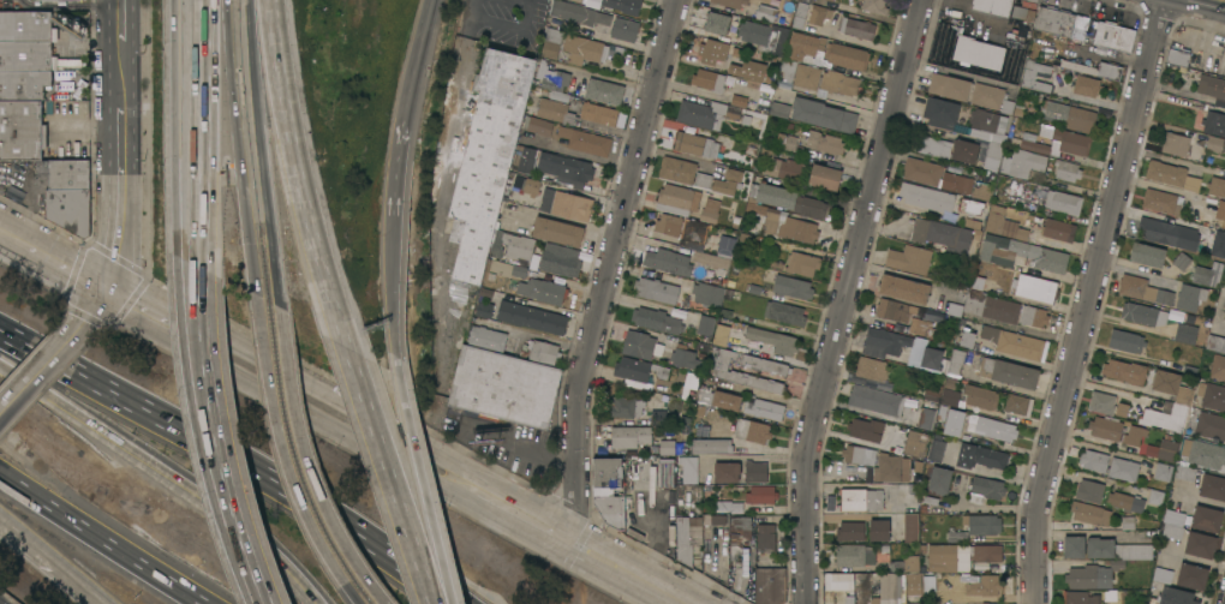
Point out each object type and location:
building: (22, 0)
building: (827, 0)
building: (40, 1)
building: (806, 1)
building: (729, 2)
road: (68, 6)
building: (617, 6)
building: (873, 6)
building: (992, 6)
building: (1023, 10)
building: (765, 13)
building: (582, 14)
building: (818, 14)
building: (799, 16)
building: (1054, 20)
road: (122, 22)
building: (716, 23)
building: (26, 26)
road: (503, 28)
building: (856, 28)
building: (625, 30)
building: (764, 36)
building: (1112, 36)
building: (550, 42)
road: (92, 43)
building: (582, 49)
building: (713, 50)
building: (823, 53)
building: (978, 53)
building: (26, 55)
building: (1177, 56)
building: (787, 66)
building: (1098, 70)
building: (752, 71)
road: (122, 74)
building: (1028, 76)
building: (551, 77)
building: (709, 80)
building: (825, 80)
road: (98, 82)
building: (23, 84)
building: (1086, 85)
building: (949, 86)
building: (1211, 86)
building: (603, 91)
road: (408, 96)
building: (558, 96)
building: (986, 96)
building: (742, 102)
building: (1006, 107)
building: (778, 109)
building: (573, 113)
building: (940, 113)
building: (706, 114)
building: (823, 115)
building: (1070, 116)
building: (1214, 124)
building: (537, 125)
building: (986, 126)
road: (89, 127)
building: (20, 130)
building: (1045, 132)
road: (179, 134)
road: (208, 134)
building: (585, 142)
building: (787, 142)
building: (824, 143)
building: (1054, 143)
building: (1175, 144)
building: (1214, 144)
building: (697, 145)
building: (735, 145)
road: (238, 146)
building: (932, 146)
building: (964, 151)
road: (263, 154)
building: (765, 154)
building: (524, 156)
building: (992, 157)
road: (446, 160)
building: (485, 161)
building: (1021, 163)
building: (564, 169)
building: (784, 169)
building: (676, 171)
building: (1066, 171)
building: (921, 172)
road: (295, 173)
building: (67, 174)
building: (1171, 175)
building: (824, 177)
building: (701, 180)
building: (728, 183)
building: (956, 183)
building: (528, 186)
building: (1217, 186)
building: (981, 191)
building: (13, 193)
road: (119, 196)
building: (1038, 196)
building: (926, 198)
building: (676, 199)
building: (784, 199)
building: (1062, 202)
building: (1160, 202)
building: (566, 204)
building: (970, 205)
building: (68, 210)
building: (709, 210)
building: (1220, 210)
building: (783, 223)
building: (972, 223)
building: (1005, 226)
building: (682, 231)
building: (1058, 231)
building: (557, 232)
building: (1167, 233)
building: (942, 235)
building: (1218, 244)
building: (512, 246)
building: (724, 246)
building: (1021, 253)
building: (1147, 255)
road: (54, 256)
building: (669, 259)
building: (710, 259)
building: (909, 259)
building: (560, 261)
building: (1181, 261)
building: (801, 263)
road: (608, 267)
building: (519, 271)
building: (1207, 274)
road: (388, 281)
traffic signals: (108, 285)
building: (791, 287)
building: (1035, 288)
building: (655, 289)
building: (753, 289)
building: (903, 289)
building: (542, 291)
building: (1142, 291)
building: (707, 297)
building: (1189, 298)
road: (845, 299)
road: (1088, 300)
road: (100, 301)
road: (199, 303)
road: (205, 303)
building: (973, 303)
building: (945, 306)
building: (894, 310)
building: (1000, 310)
building: (484, 311)
building: (784, 312)
building: (1033, 316)
building: (1224, 316)
building: (531, 318)
building: (656, 321)
road: (180, 323)
building: (1163, 323)
building: (705, 325)
building: (920, 328)
road: (12, 335)
building: (719, 335)
road: (548, 337)
building: (486, 339)
building: (966, 339)
building: (772, 340)
building: (1125, 341)
building: (1012, 342)
building: (888, 343)
building: (1215, 343)
building: (638, 345)
building: (540, 352)
road: (50, 357)
building: (685, 358)
building: (931, 359)
building: (956, 361)
road: (46, 366)
road: (0, 367)
building: (1217, 367)
building: (632, 369)
building: (871, 369)
building: (775, 370)
building: (1124, 371)
building: (663, 372)
building: (1008, 372)
building: (691, 381)
road: (29, 387)
building: (503, 387)
building: (1171, 387)
building: (949, 393)
building: (932, 394)
building: (1212, 396)
building: (980, 397)
road: (129, 400)
building: (670, 400)
building: (718, 400)
building: (1101, 402)
building: (1017, 405)
building: (892, 406)
building: (625, 407)
building: (763, 408)
building: (1121, 409)
building: (658, 418)
building: (1165, 418)
building: (954, 423)
building: (1209, 425)
building: (1105, 427)
building: (701, 429)
building: (996, 429)
building: (865, 430)
road: (221, 431)
building: (752, 431)
road: (502, 433)
building: (1133, 436)
building: (629, 437)
road: (382, 442)
building: (914, 444)
building: (711, 445)
building: (667, 448)
building: (936, 449)
building: (1163, 449)
road: (410, 454)
building: (857, 455)
building: (1203, 455)
building: (980, 456)
road: (282, 458)
road: (309, 465)
building: (1109, 465)
building: (688, 467)
building: (891, 468)
building: (665, 472)
building: (725, 472)
building: (754, 472)
building: (1163, 472)
building: (1184, 473)
building: (605, 476)
building: (938, 480)
building: (960, 482)
road: (471, 483)
building: (1212, 488)
building: (913, 489)
building: (985, 490)
building: (1088, 491)
building: (760, 495)
road: (191, 496)
building: (1155, 497)
building: (860, 500)
building: (930, 501)
building: (1125, 502)
building: (728, 507)
road: (323, 510)
building: (610, 510)
building: (1089, 514)
building: (1206, 519)
building: (713, 520)
building: (1127, 522)
building: (1172, 524)
building: (981, 525)
building: (910, 528)
building: (878, 530)
building: (740, 531)
building: (850, 531)
building: (955, 534)
building: (765, 537)
road: (103, 538)
building: (687, 538)
building: (1200, 545)
building: (1072, 546)
building: (884, 548)
building: (1099, 548)
building: (960, 556)
building: (872, 560)
road: (53, 561)
road: (261, 563)
building: (1117, 566)
road: (431, 573)
building: (1161, 575)
building: (1191, 576)
building: (837, 581)
building: (980, 585)
building: (769, 586)
building: (913, 586)
building: (891, 587)
building: (1175, 596)
building: (1080, 598)
road: (316, 603)
building: (913, 603)

